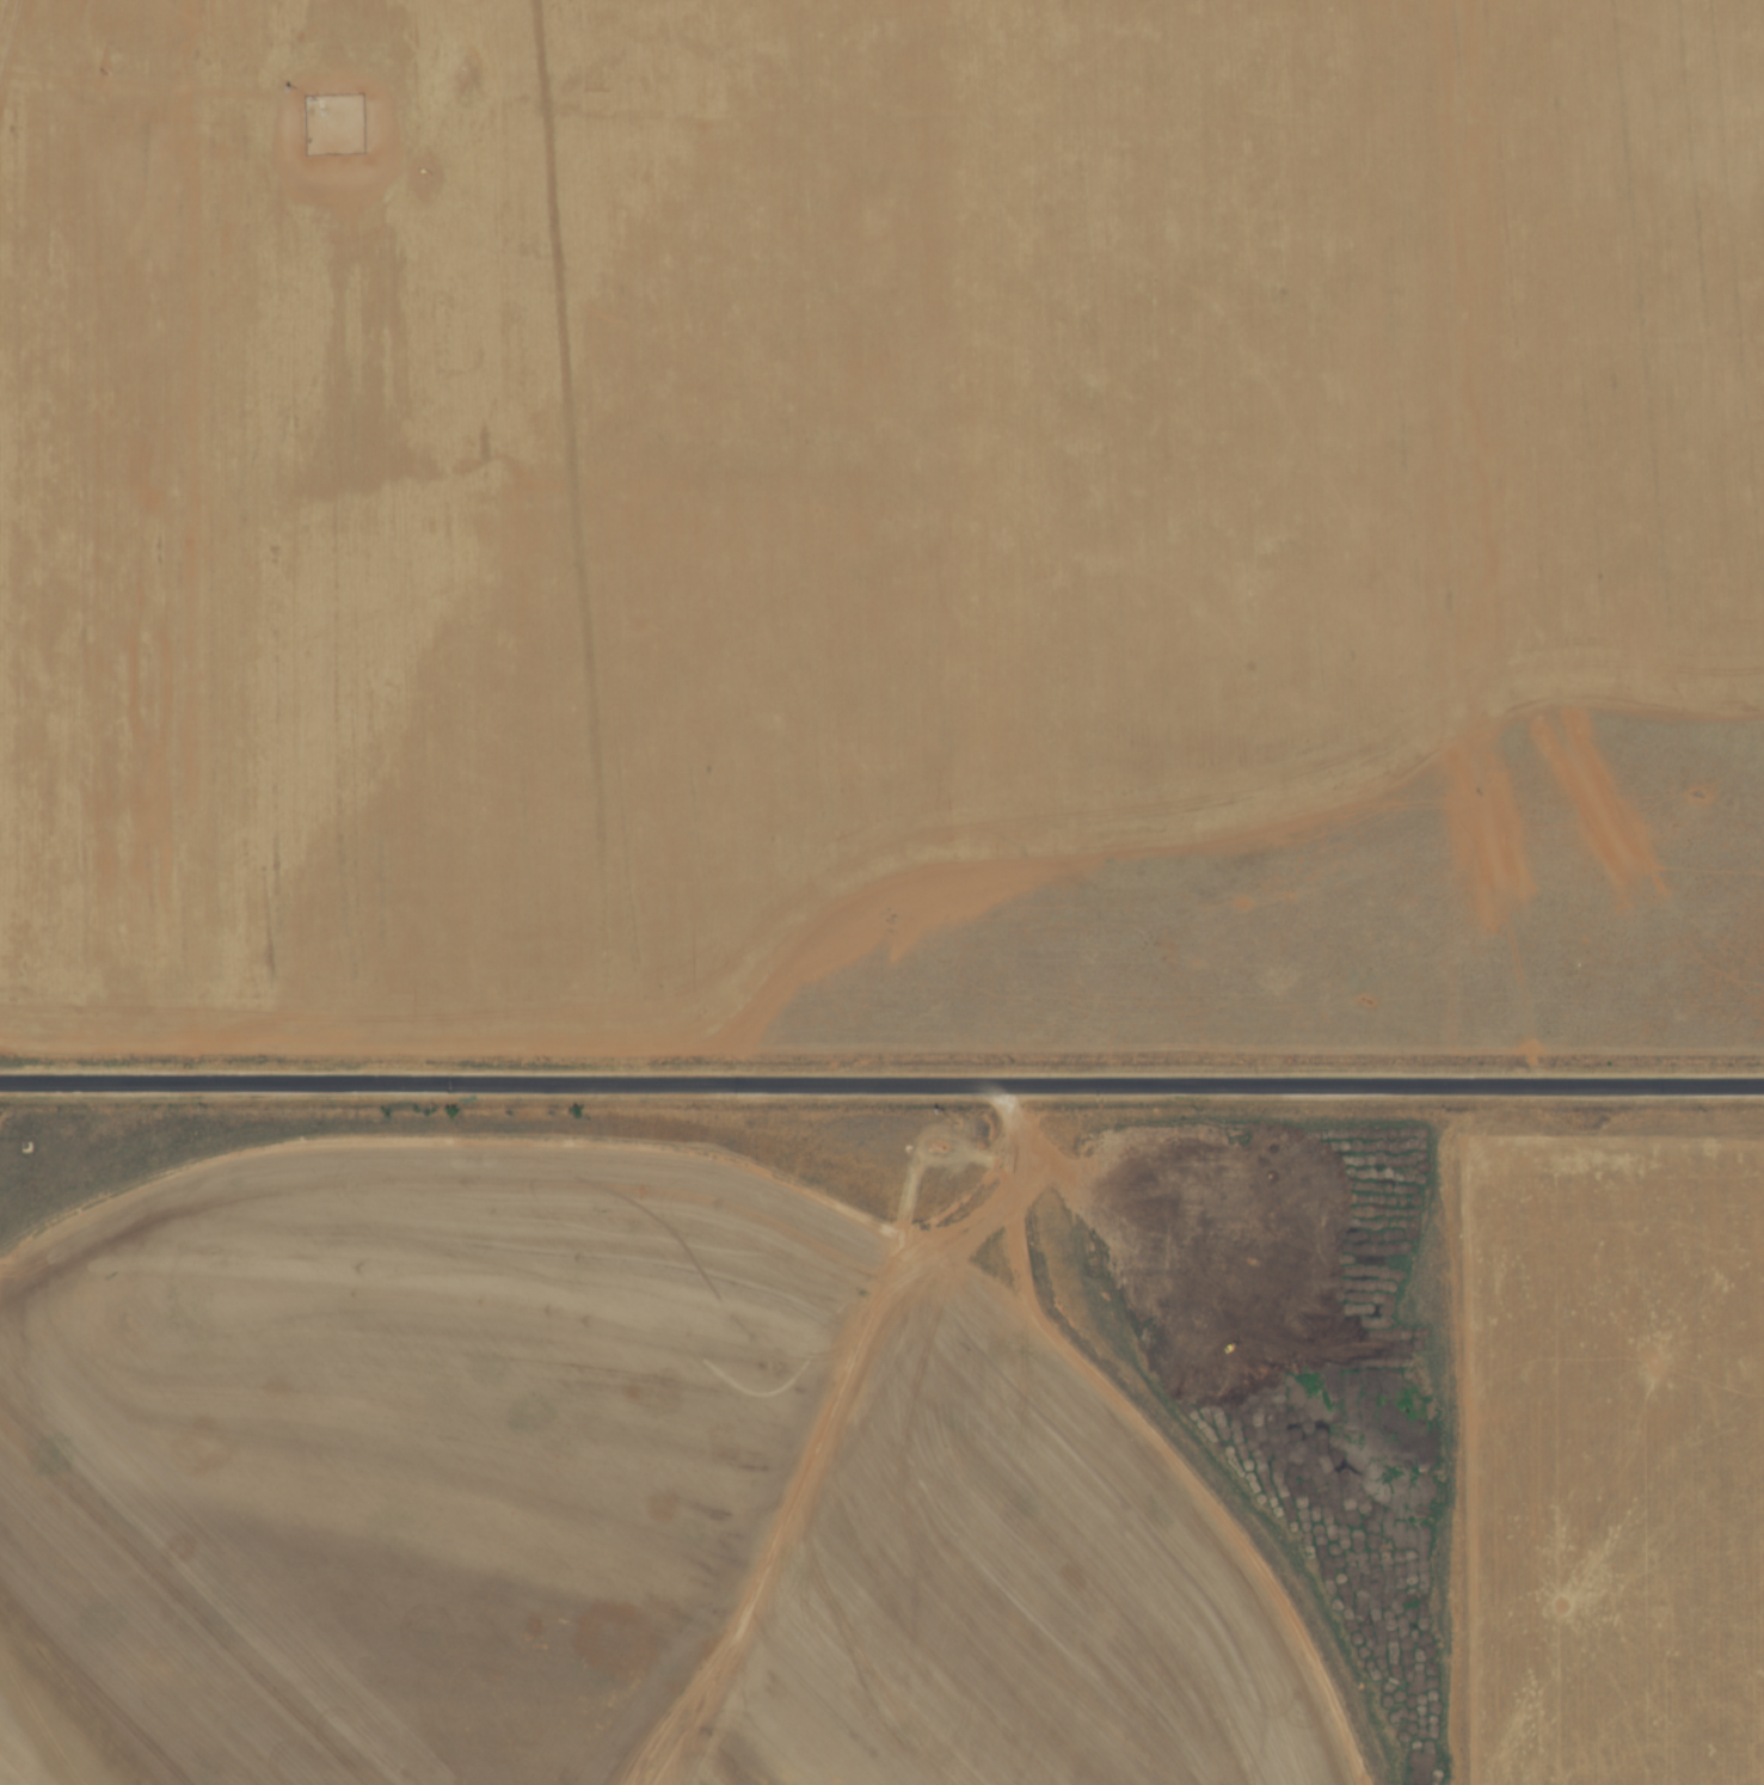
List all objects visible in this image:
road: (881, 1081)

